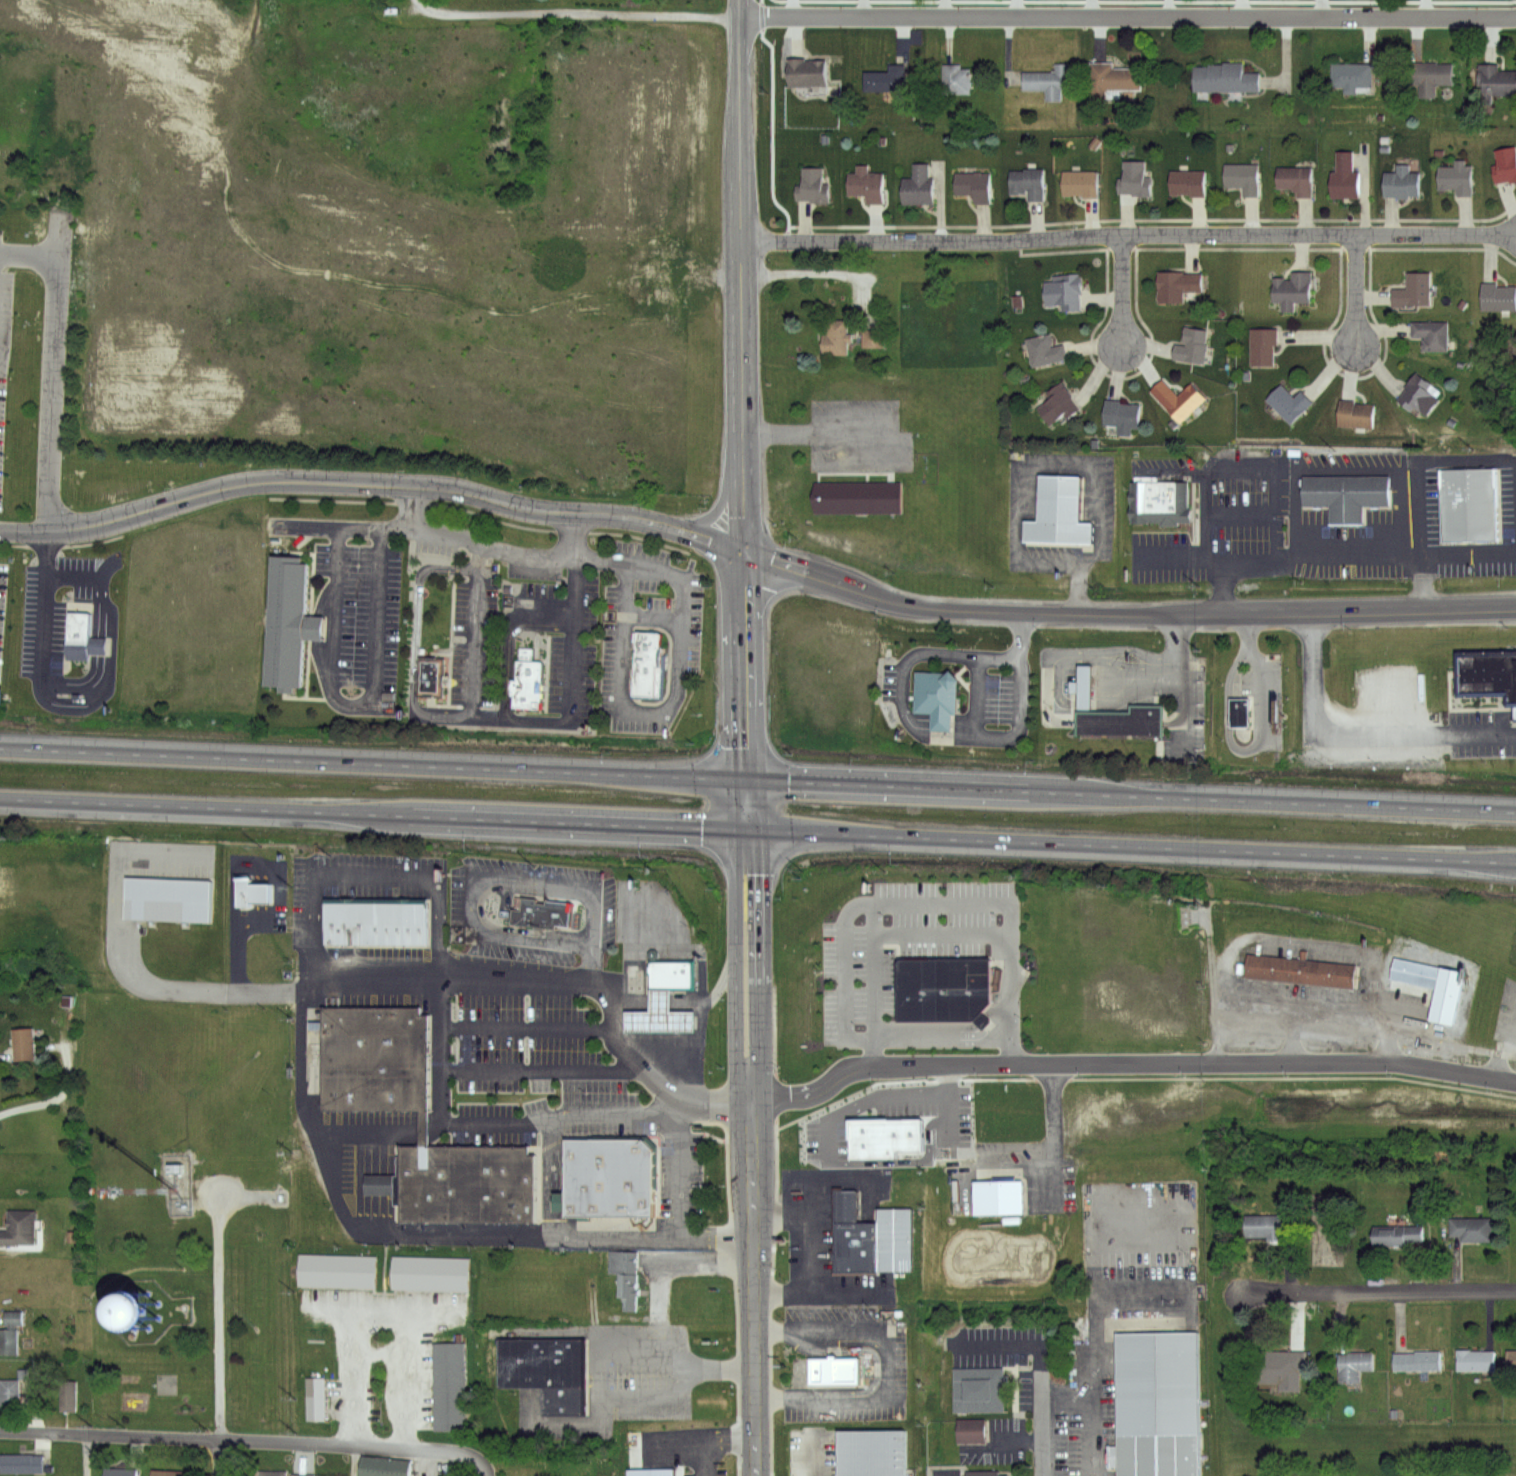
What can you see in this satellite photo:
road: (577, 11)
crop: (223, 12)
road: (1128, 18)
building: (807, 72)
building: (1227, 77)
building: (1353, 77)
building: (1433, 77)
building: (1115, 78)
building: (887, 79)
building: (957, 79)
building: (1495, 80)
building: (1052, 81)
crop: (36, 102)
building: (1506, 165)
building: (1346, 177)
building: (1245, 178)
building: (1459, 178)
building: (1137, 180)
building: (1298, 181)
building: (1402, 182)
building: (1029, 183)
building: (1083, 183)
building: (1190, 183)
building: (867, 184)
building: (815, 187)
building: (920, 187)
building: (976, 187)
road: (1127, 235)
road: (31, 257)
crop: (399, 257)
building: (1177, 286)
road: (1357, 290)
road: (1123, 291)
building: (1292, 291)
building: (1416, 291)
building: (1067, 292)
building: (1499, 297)
building: (1432, 335)
building: (839, 338)
building: (875, 338)
building: (1193, 346)
building: (1264, 346)
building: (1047, 352)
road: (55, 374)
building: (1421, 393)
building: (1179, 399)
building: (1061, 403)
building: (1291, 404)
road: (740, 414)
building: (1357, 414)
building: (1123, 416)
road: (864, 460)
road: (1063, 461)
road: (371, 485)
building: (1349, 489)
building: (858, 491)
building: (1160, 496)
building: (1469, 499)
road: (715, 508)
road: (415, 510)
building: (1061, 510)
road: (576, 535)
road: (477, 544)
traffic signals: (742, 551)
road: (1346, 553)
road: (1053, 562)
road: (1422, 583)
road: (1079, 591)
crop: (187, 605)
road: (1124, 614)
building: (288, 621)
road: (478, 622)
building: (76, 624)
parking lot: (359, 627)
road: (573, 637)
road: (679, 638)
parking lot: (478, 642)
building: (649, 658)
building: (532, 664)
road: (1258, 674)
road: (1181, 678)
building: (1486, 678)
building: (431, 680)
building: (937, 692)
road: (74, 704)
road: (356, 707)
building: (1240, 708)
building: (1111, 710)
road: (1360, 729)
parking lot: (1478, 733)
road: (929, 737)
traffic signals: (745, 778)
road: (758, 778)
traffic signals: (746, 829)
road: (758, 829)
road: (270, 869)
road: (357, 874)
road: (563, 882)
building: (252, 893)
building: (170, 899)
building: (544, 912)
road: (472, 913)
building: (624, 917)
road: (937, 923)
building: (379, 934)
road: (544, 941)
road: (235, 954)
road: (596, 961)
road: (701, 961)
building: (1302, 966)
road: (442, 971)
building: (672, 973)
road: (723, 978)
building: (1428, 980)
building: (944, 983)
road: (659, 1000)
road: (626, 1002)
building: (661, 1014)
road: (1233, 1018)
road: (1334, 1023)
road: (525, 1027)
road: (940, 1037)
building: (24, 1042)
parking lot: (535, 1054)
road: (1129, 1061)
road: (672, 1066)
road: (541, 1069)
road: (65, 1088)
road: (1052, 1110)
road: (488, 1121)
building: (420, 1122)
road: (424, 1122)
road: (750, 1152)
building: (611, 1175)
building: (1000, 1197)
building: (1272, 1225)
road: (675, 1227)
road: (413, 1228)
building: (1515, 1228)
building: (19, 1229)
building: (1473, 1229)
road: (713, 1233)
building: (1398, 1236)
building: (873, 1237)
road: (797, 1252)
building: (341, 1273)
building: (432, 1274)
building: (624, 1285)
road: (1380, 1292)
water tower: (141, 1306)
road: (367, 1307)
road: (217, 1315)
building: (106, 1318)
building: (8, 1341)
road: (607, 1350)
building: (1416, 1356)
building: (1512, 1356)
building: (1477, 1357)
building: (1354, 1360)
building: (1280, 1362)
building: (547, 1366)
road: (888, 1367)
building: (831, 1371)
building: (451, 1388)
building: (979, 1389)
building: (8, 1393)
building: (67, 1395)
park: (168, 1395)
building: (317, 1397)
building: (1156, 1402)
road: (1065, 1408)
road: (1043, 1428)
building: (974, 1431)
road: (239, 1441)
road: (1088, 1442)
building: (634, 1448)
building: (873, 1451)
road: (87, 1455)
building: (702, 1457)
road: (219, 1458)
building: (21, 1464)
building: (384, 1465)
road: (484, 1466)
building: (120, 1471)
building: (167, 1471)
building: (289, 1472)
building: (984, 1473)
building: (1441, 1473)
building: (1331, 1474)

